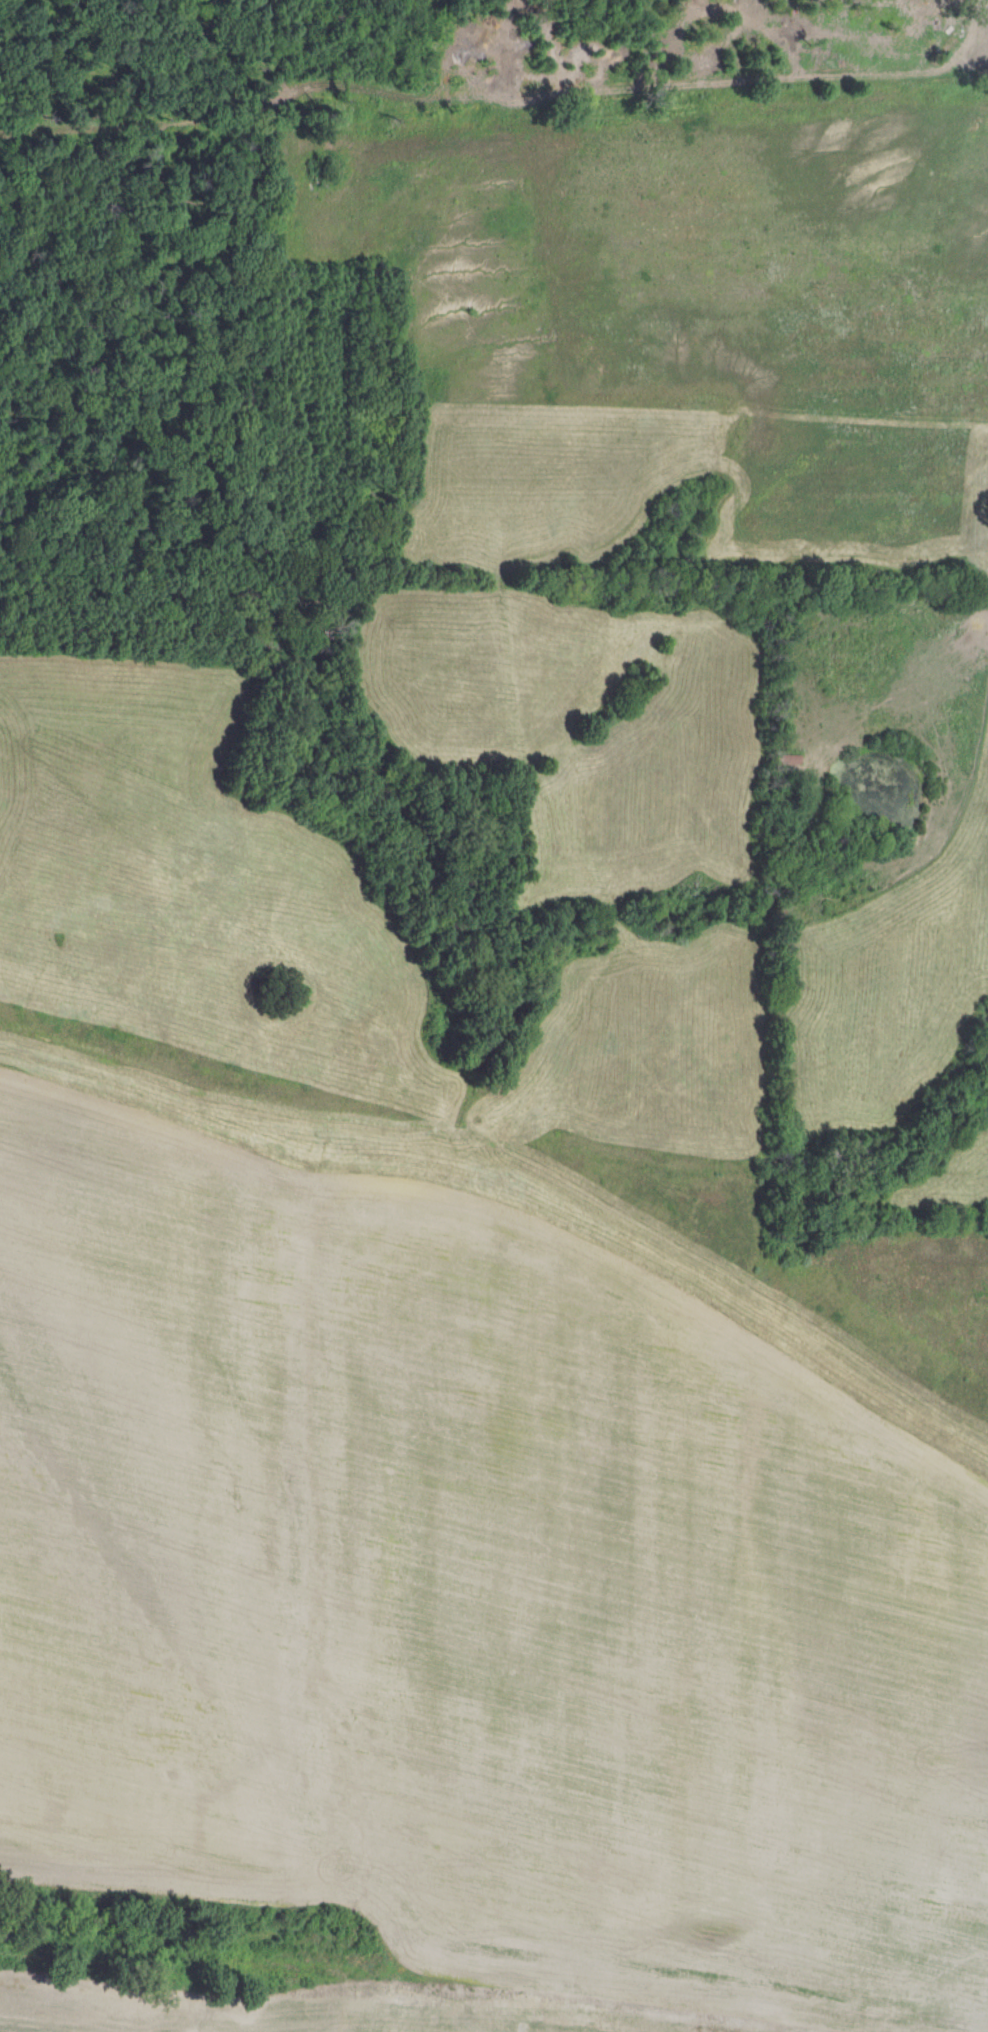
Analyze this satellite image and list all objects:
crop: (140, 1469)
crop: (659, 1579)
crop: (195, 2007)

